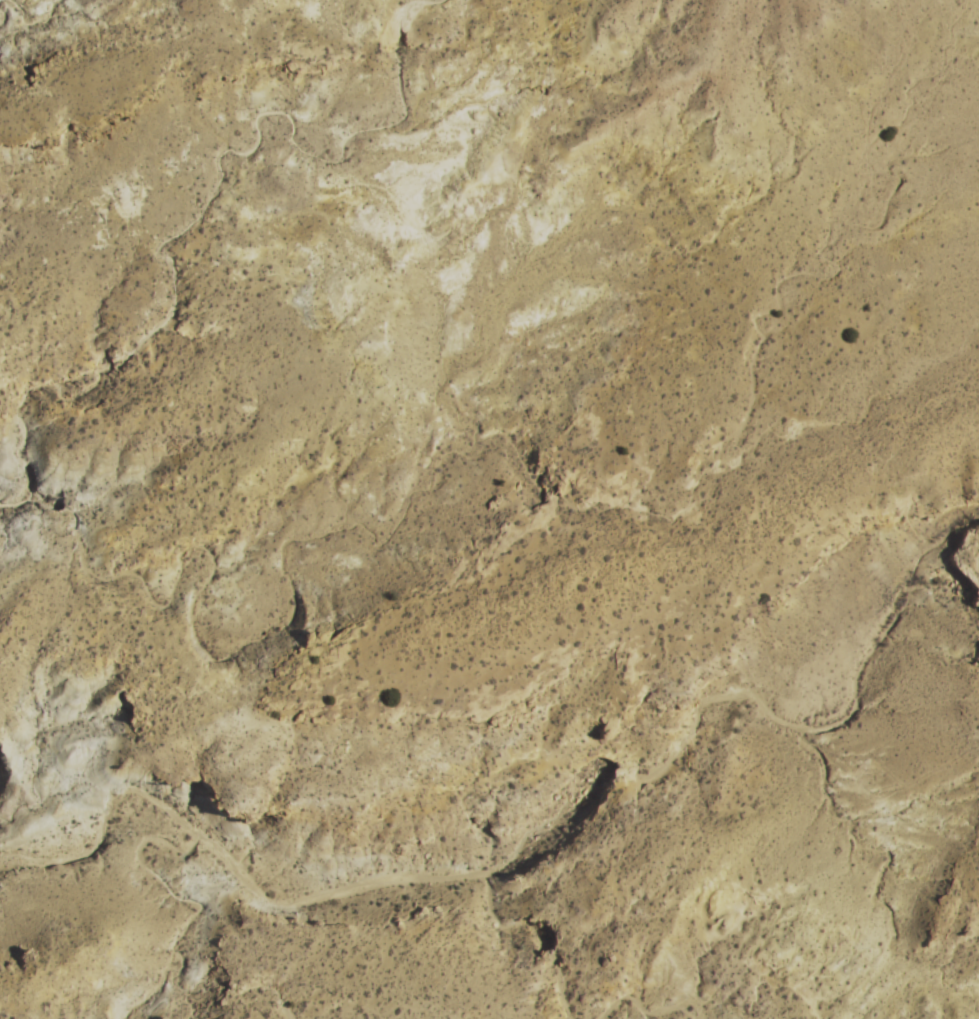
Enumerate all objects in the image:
river: (532, 821)

